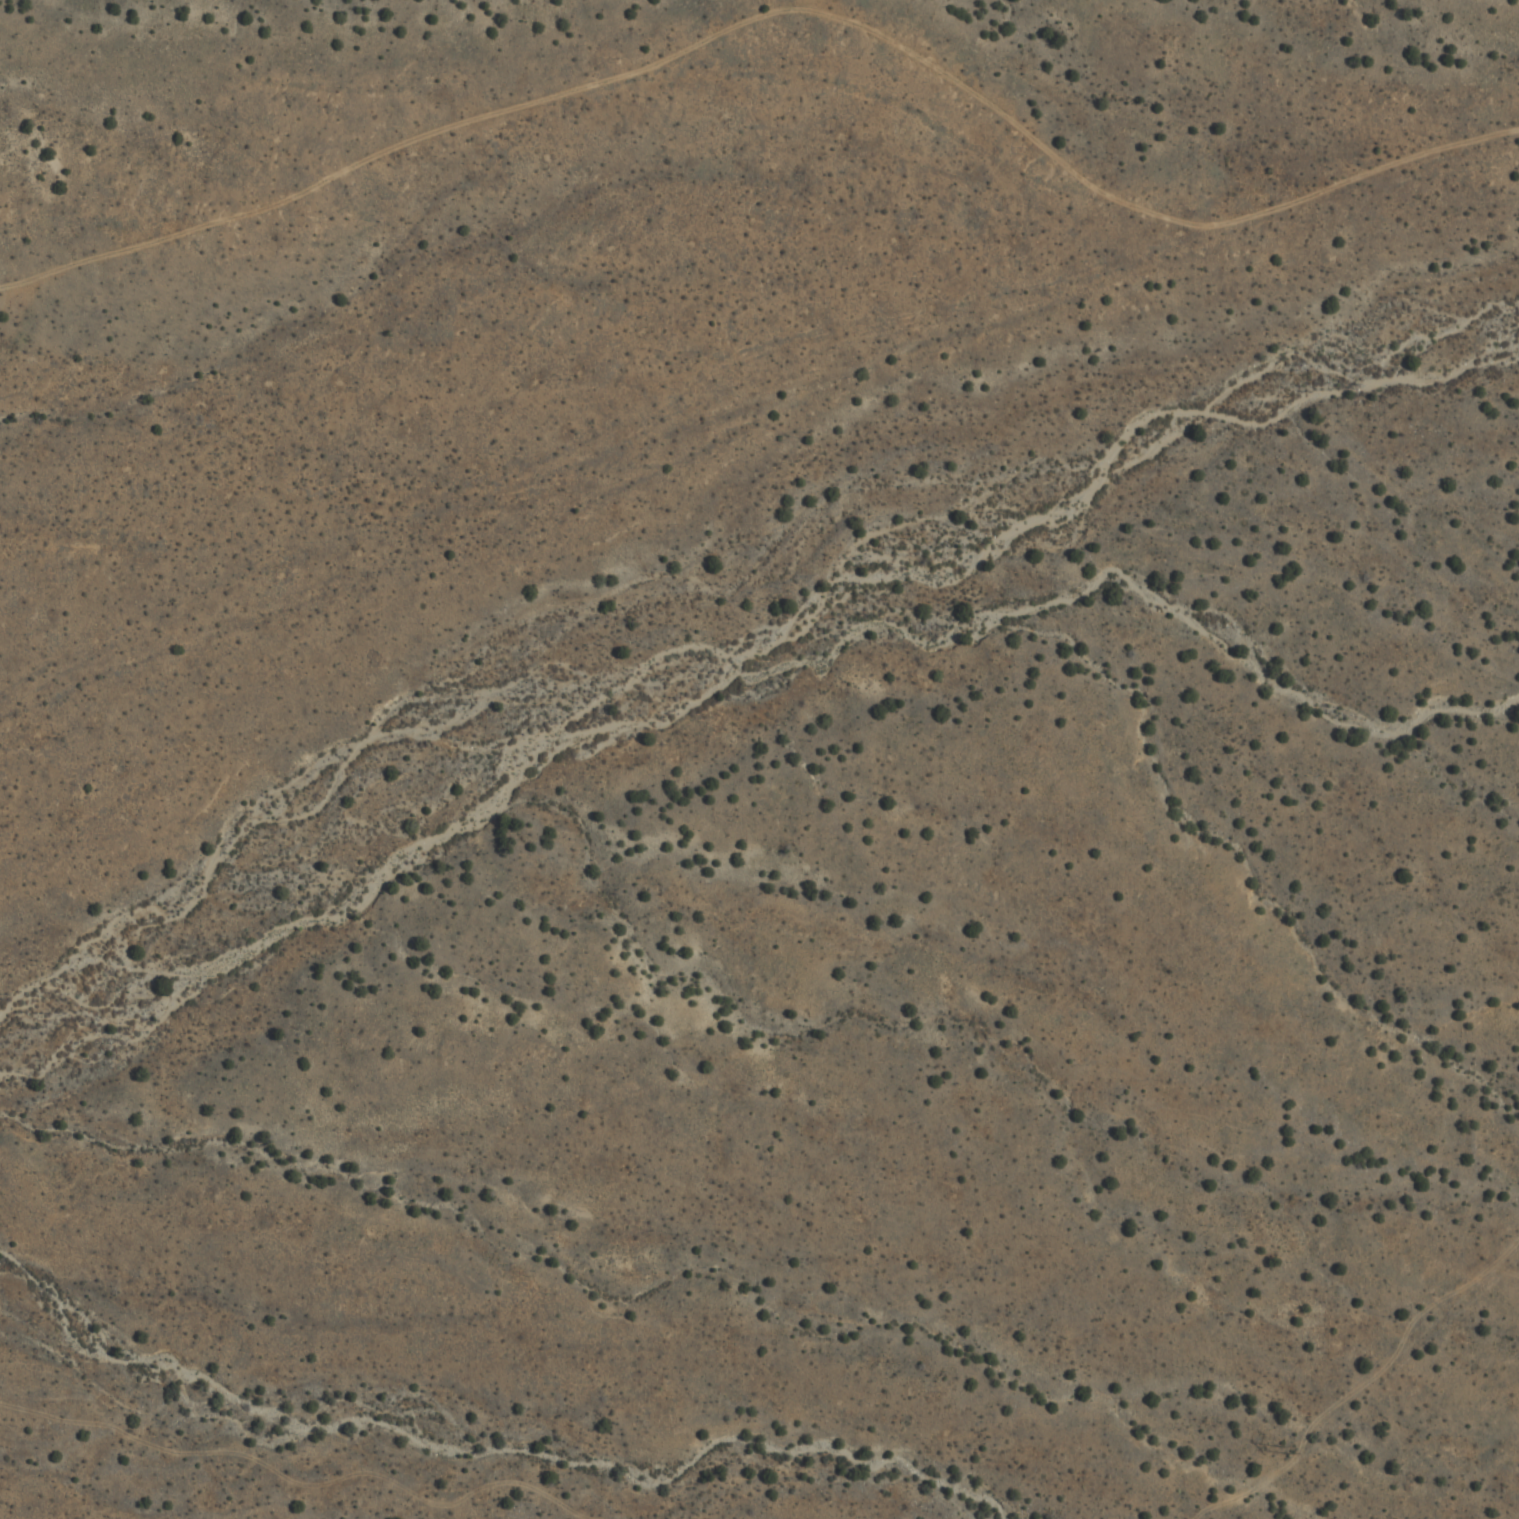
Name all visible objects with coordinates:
power tower: (1284, 1447)

